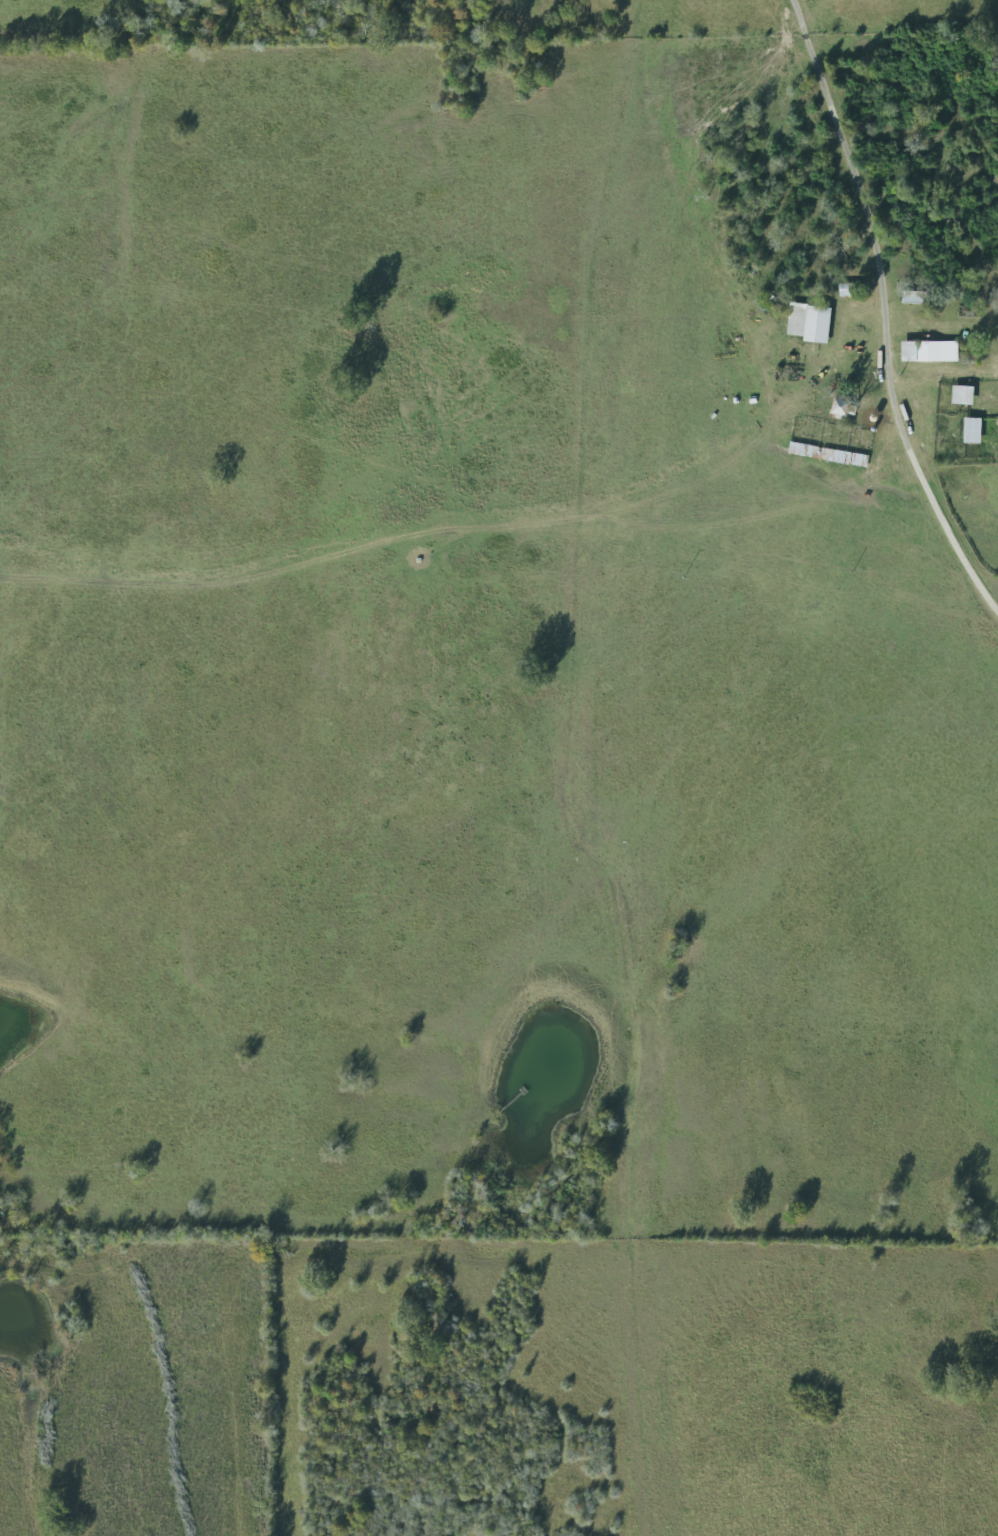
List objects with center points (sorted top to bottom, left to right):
building: (912, 297)
road: (882, 313)
building: (810, 323)
building: (930, 351)
building: (964, 395)
building: (974, 430)
building: (821, 441)

